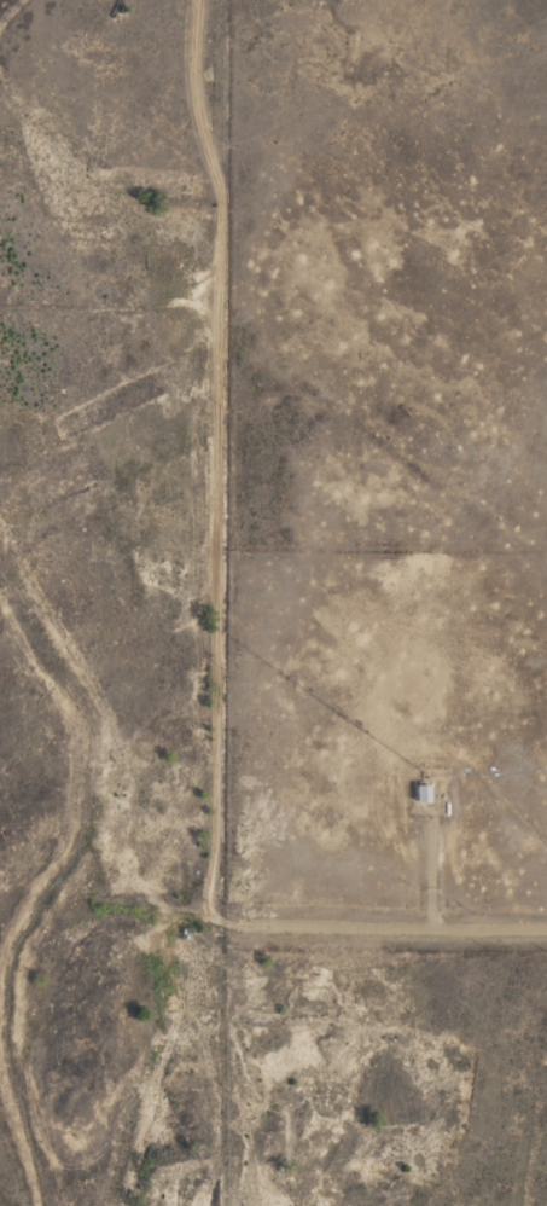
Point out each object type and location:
road: (396, 926)

